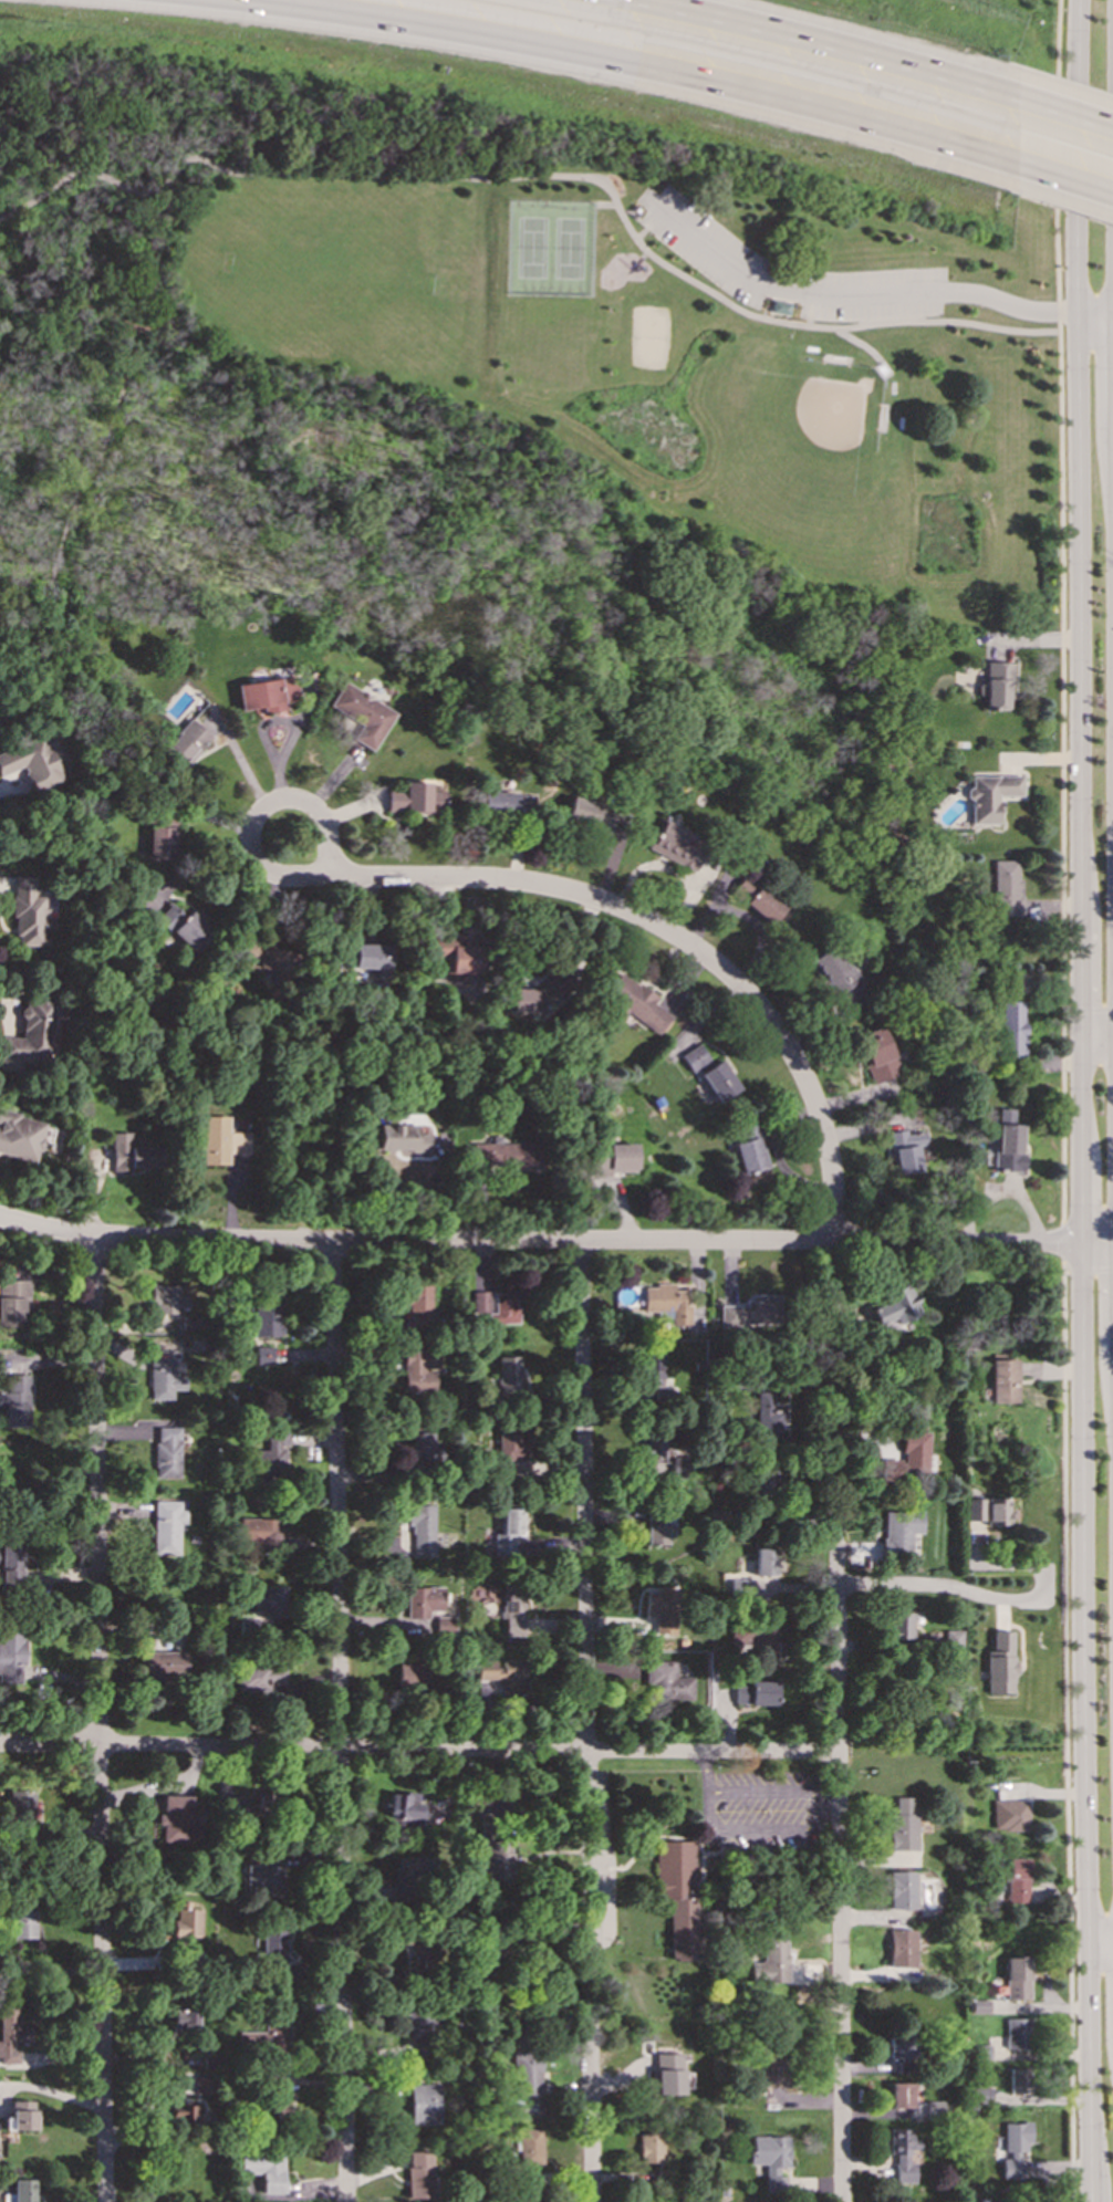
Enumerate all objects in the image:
road: (835, 49)
road: (641, 66)
road: (1080, 124)
road: (1057, 166)
road: (544, 177)
road: (1081, 187)
road: (604, 205)
road: (647, 222)
park: (549, 249)
parking lot: (786, 270)
park: (327, 275)
road: (875, 294)
building: (780, 307)
road: (811, 310)
park: (648, 337)
road: (861, 345)
park: (514, 364)
park: (807, 426)
road: (92, 461)
building: (992, 685)
building: (264, 693)
building: (360, 714)
building: (191, 737)
road: (1061, 778)
building: (989, 796)
building: (410, 799)
building: (505, 803)
building: (589, 814)
road: (251, 827)
building: (159, 843)
building: (675, 845)
building: (1006, 888)
building: (758, 900)
building: (27, 914)
building: (184, 927)
road: (674, 937)
building: (457, 956)
building: (266, 959)
building: (371, 959)
building: (841, 981)
building: (538, 995)
building: (634, 1002)
road: (1088, 1011)
building: (1010, 1031)
building: (30, 1036)
road: (1098, 1043)
building: (876, 1055)
building: (694, 1060)
building: (718, 1083)
road: (1083, 1100)
building: (403, 1139)
building: (222, 1141)
building: (1007, 1144)
building: (748, 1147)
building: (905, 1149)
building: (132, 1154)
building: (503, 1155)
building: (611, 1159)
road: (555, 1241)
road: (1062, 1242)
road: (1088, 1270)
building: (169, 1301)
building: (667, 1302)
building: (11, 1303)
building: (418, 1305)
building: (496, 1306)
building: (751, 1313)
building: (269, 1321)
building: (419, 1370)
building: (508, 1378)
building: (652, 1378)
building: (164, 1380)
building: (1003, 1380)
building: (17, 1400)
building: (769, 1416)
building: (424, 1447)
building: (167, 1452)
building: (909, 1454)
building: (514, 1457)
building: (271, 1458)
building: (680, 1469)
road: (46, 1481)
building: (763, 1483)
building: (975, 1510)
building: (997, 1512)
building: (167, 1526)
building: (660, 1526)
building: (424, 1530)
building: (508, 1532)
building: (259, 1533)
building: (898, 1533)
building: (763, 1562)
road: (985, 1595)
building: (271, 1600)
building: (422, 1601)
building: (663, 1609)
building: (512, 1615)
building: (897, 1626)
building: (951, 1639)
building: (755, 1640)
building: (12, 1656)
building: (999, 1663)
building: (165, 1664)
building: (503, 1674)
building: (414, 1677)
building: (251, 1679)
building: (666, 1683)
building: (756, 1694)
road: (97, 1719)
road: (584, 1721)
road: (337, 1722)
road: (836, 1722)
road: (1068, 1731)
road: (417, 1749)
road: (707, 1772)
building: (243, 1805)
building: (402, 1807)
road: (708, 1809)
road: (828, 1810)
building: (1010, 1816)
building: (179, 1819)
building: (901, 1826)
building: (495, 1854)
building: (266, 1877)
building: (412, 1877)
building: (1017, 1881)
building: (899, 1890)
building: (675, 1896)
building: (185, 1921)
building: (23, 1924)
road: (1101, 1945)
building: (273, 1949)
building: (899, 1949)
building: (191, 1955)
building: (771, 1959)
building: (408, 1962)
building: (1017, 1980)
building: (980, 2007)
building: (184, 2016)
building: (418, 2025)
building: (12, 2033)
building: (1017, 2034)
building: (266, 2037)
building: (902, 2054)
building: (772, 2071)
building: (664, 2075)
building: (527, 2080)
building: (1024, 2086)
road: (50, 2089)
building: (899, 2095)
building: (984, 2095)
building: (272, 2096)
building: (189, 2104)
building: (422, 2106)
building: (926, 2109)
road: (146, 2110)
building: (20, 2118)
building: (649, 2144)
building: (530, 2148)
building: (1013, 2148)
building: (901, 2154)
building: (771, 2160)
building: (264, 2170)
building: (417, 2174)
building: (23, 2190)
building: (996, 2201)

